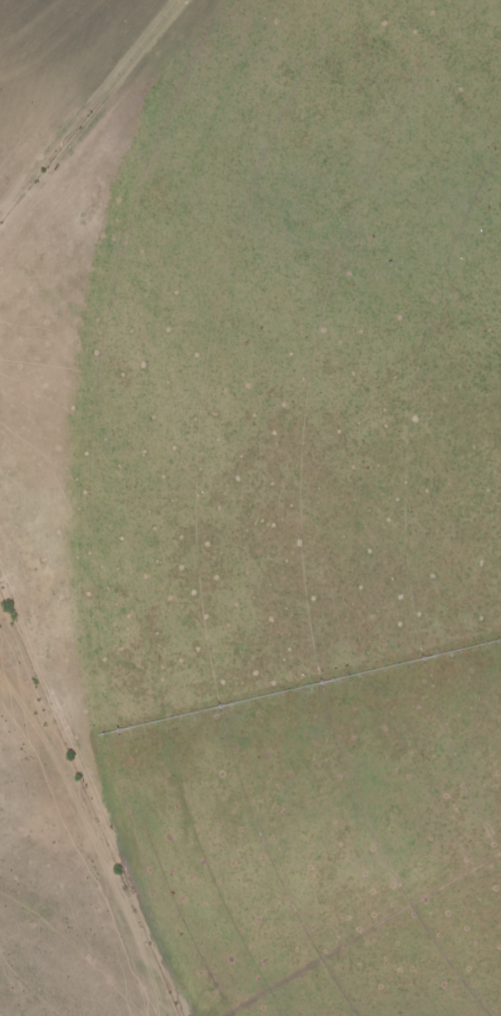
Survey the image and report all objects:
road: (74, 968)

